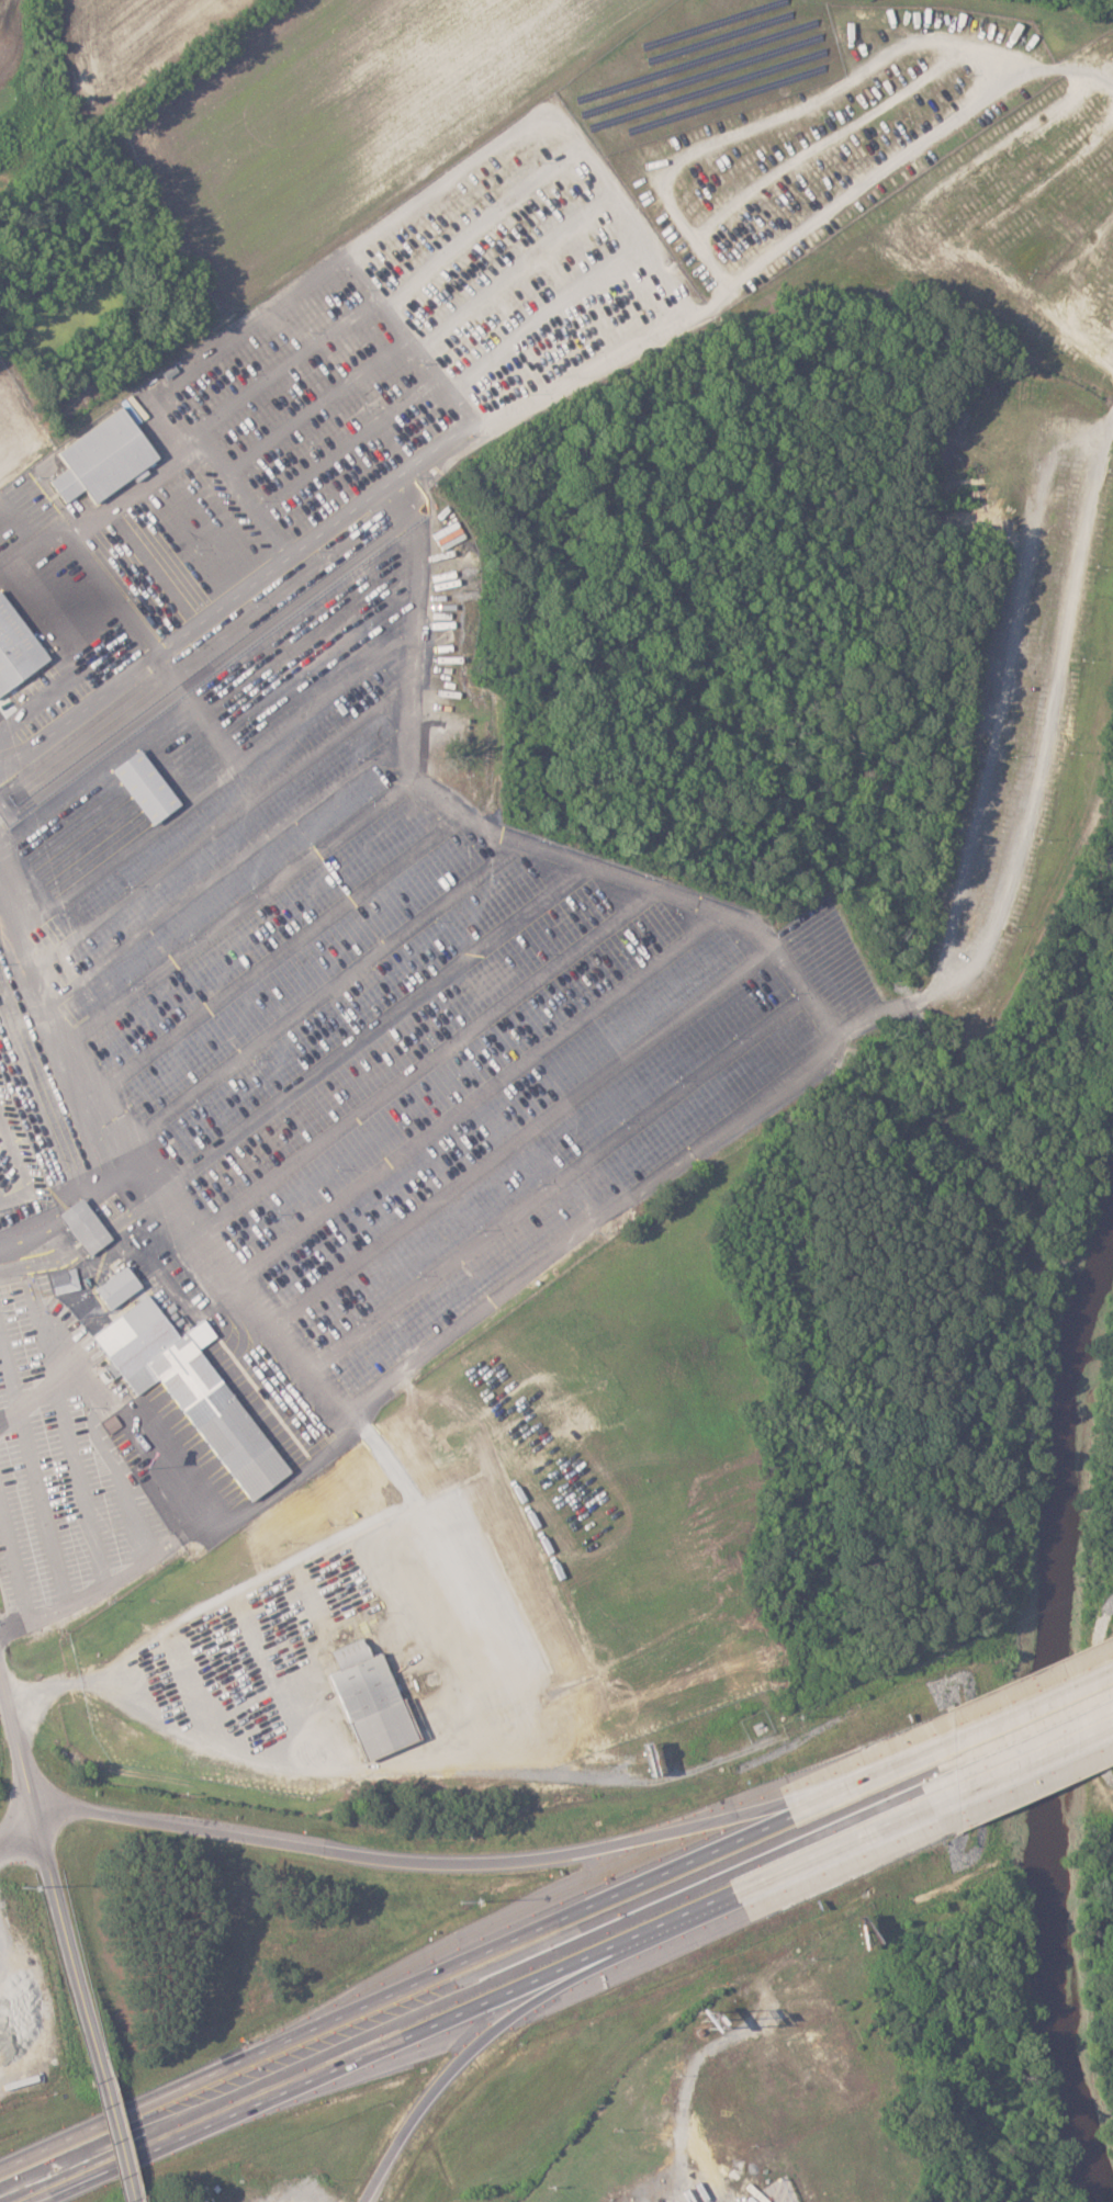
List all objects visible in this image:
road: (782, 117)
road: (926, 221)
road: (336, 268)
building: (108, 459)
road: (420, 459)
road: (196, 628)
building: (18, 646)
road: (1037, 768)
building: (149, 786)
road: (157, 1164)
road: (21, 1168)
road: (110, 1177)
road: (0, 1201)
road: (0, 1204)
building: (89, 1226)
building: (67, 1280)
building: (121, 1287)
road: (64, 1337)
road: (440, 1341)
building: (195, 1390)
road: (114, 1464)
road: (16, 1578)
road: (139, 1691)
building: (375, 1700)
road: (1026, 1718)
river: (1050, 1742)
road: (1028, 1759)
road: (20, 1822)
road: (55, 1857)
road: (417, 1863)
road: (470, 1965)
road: (491, 1999)
road: (491, 2037)
road: (126, 2137)

